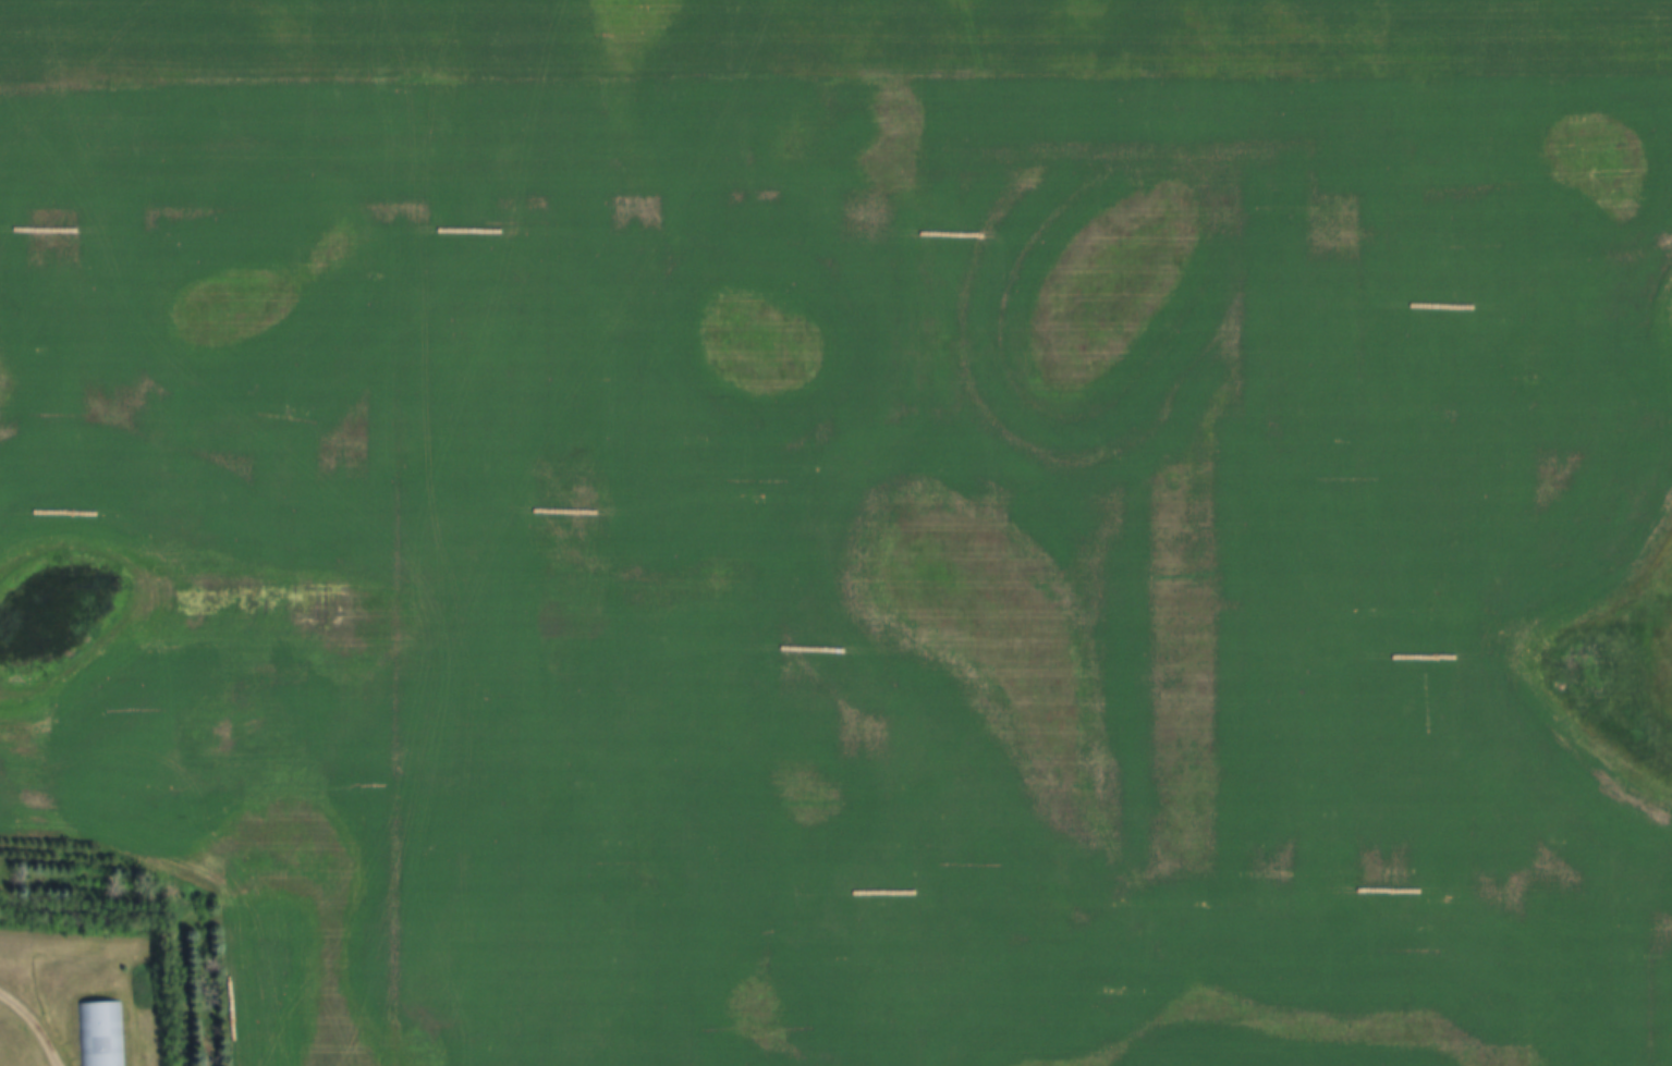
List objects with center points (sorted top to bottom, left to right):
road: (40, 1018)
building: (101, 1034)

